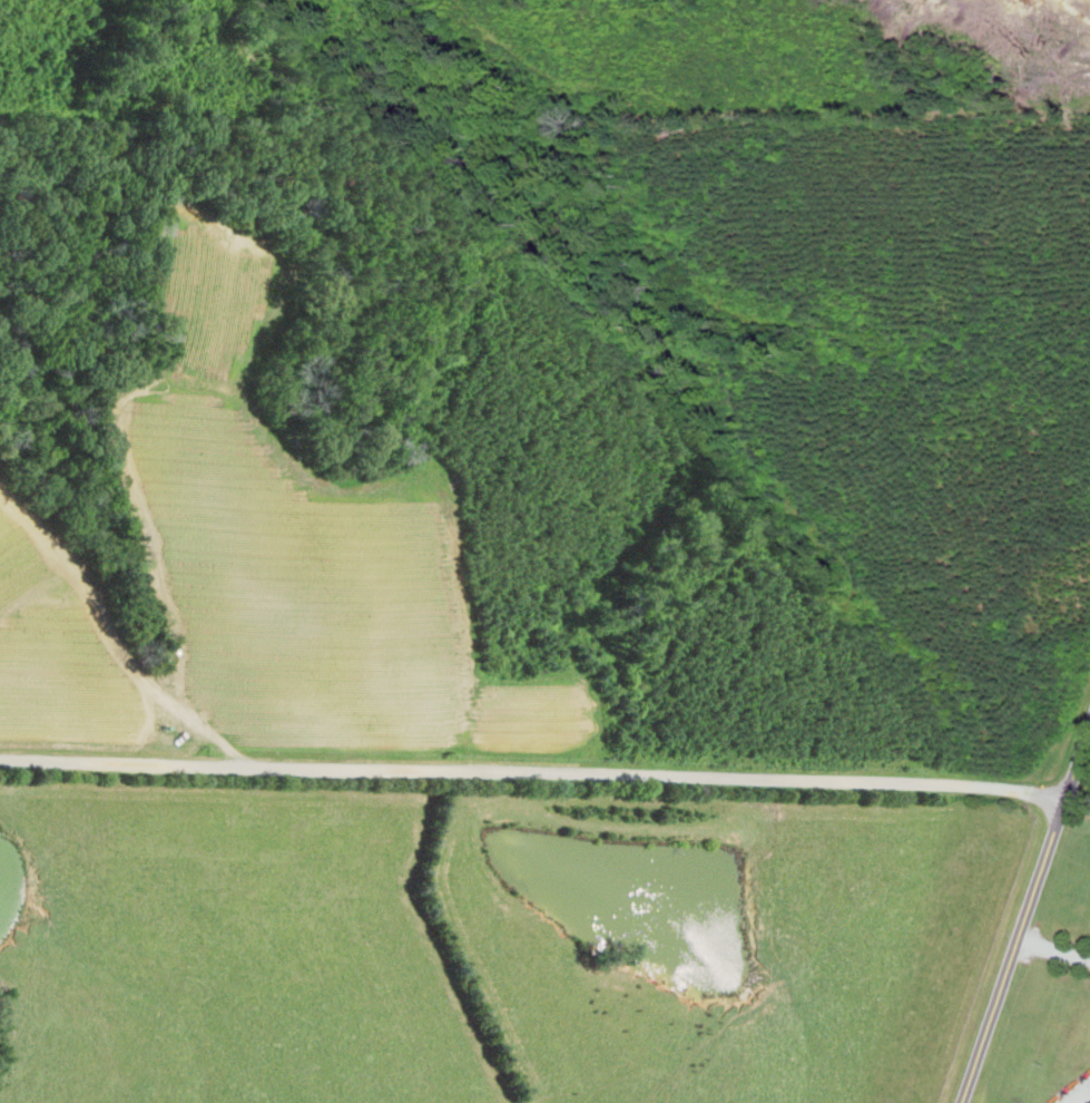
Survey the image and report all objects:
road: (536, 772)
road: (1025, 920)

